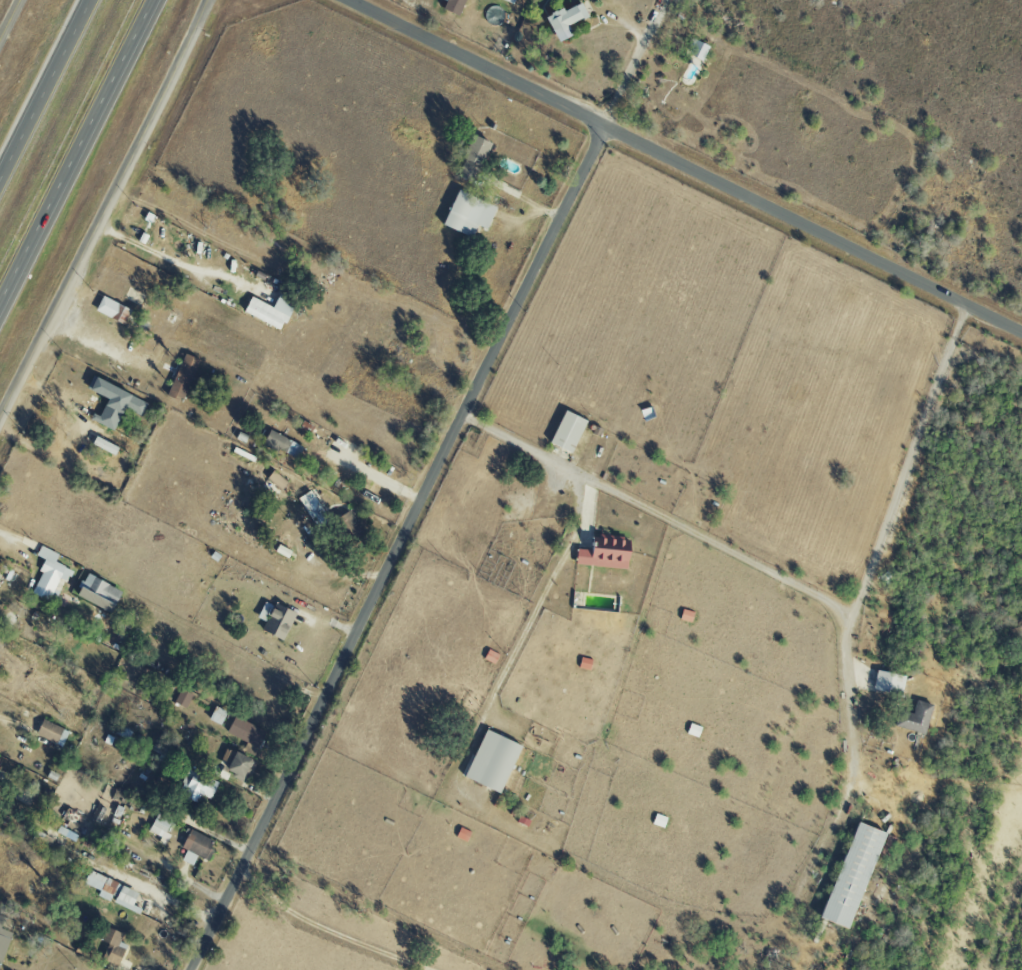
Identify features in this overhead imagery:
building: (510, 1)
building: (452, 6)
building: (562, 19)
road: (11, 22)
building: (695, 49)
road: (634, 62)
road: (44, 88)
road: (78, 154)
building: (472, 154)
road: (684, 165)
road: (103, 209)
building: (466, 214)
road: (175, 261)
building: (112, 310)
building: (267, 311)
road: (97, 341)
building: (181, 376)
building: (113, 402)
building: (565, 430)
building: (282, 444)
road: (906, 463)
road: (385, 477)
building: (275, 479)
building: (310, 505)
building: (346, 525)
road: (19, 536)
road: (722, 546)
road: (395, 547)
building: (281, 550)
building: (48, 573)
building: (95, 592)
road: (541, 599)
building: (274, 619)
building: (887, 682)
building: (182, 698)
building: (217, 715)
building: (913, 717)
road: (4, 718)
building: (244, 731)
building: (50, 732)
building: (489, 760)
building: (236, 764)
building: (197, 786)
building: (159, 827)
building: (195, 846)
building: (849, 874)
building: (111, 890)
road: (328, 930)
building: (3, 938)
building: (112, 945)

